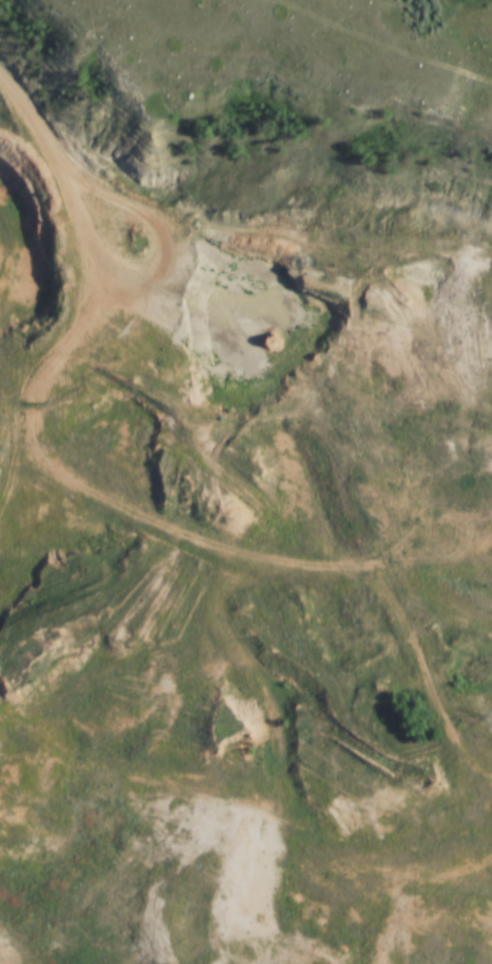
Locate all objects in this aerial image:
road: (217, 374)
quarry: (243, 578)

